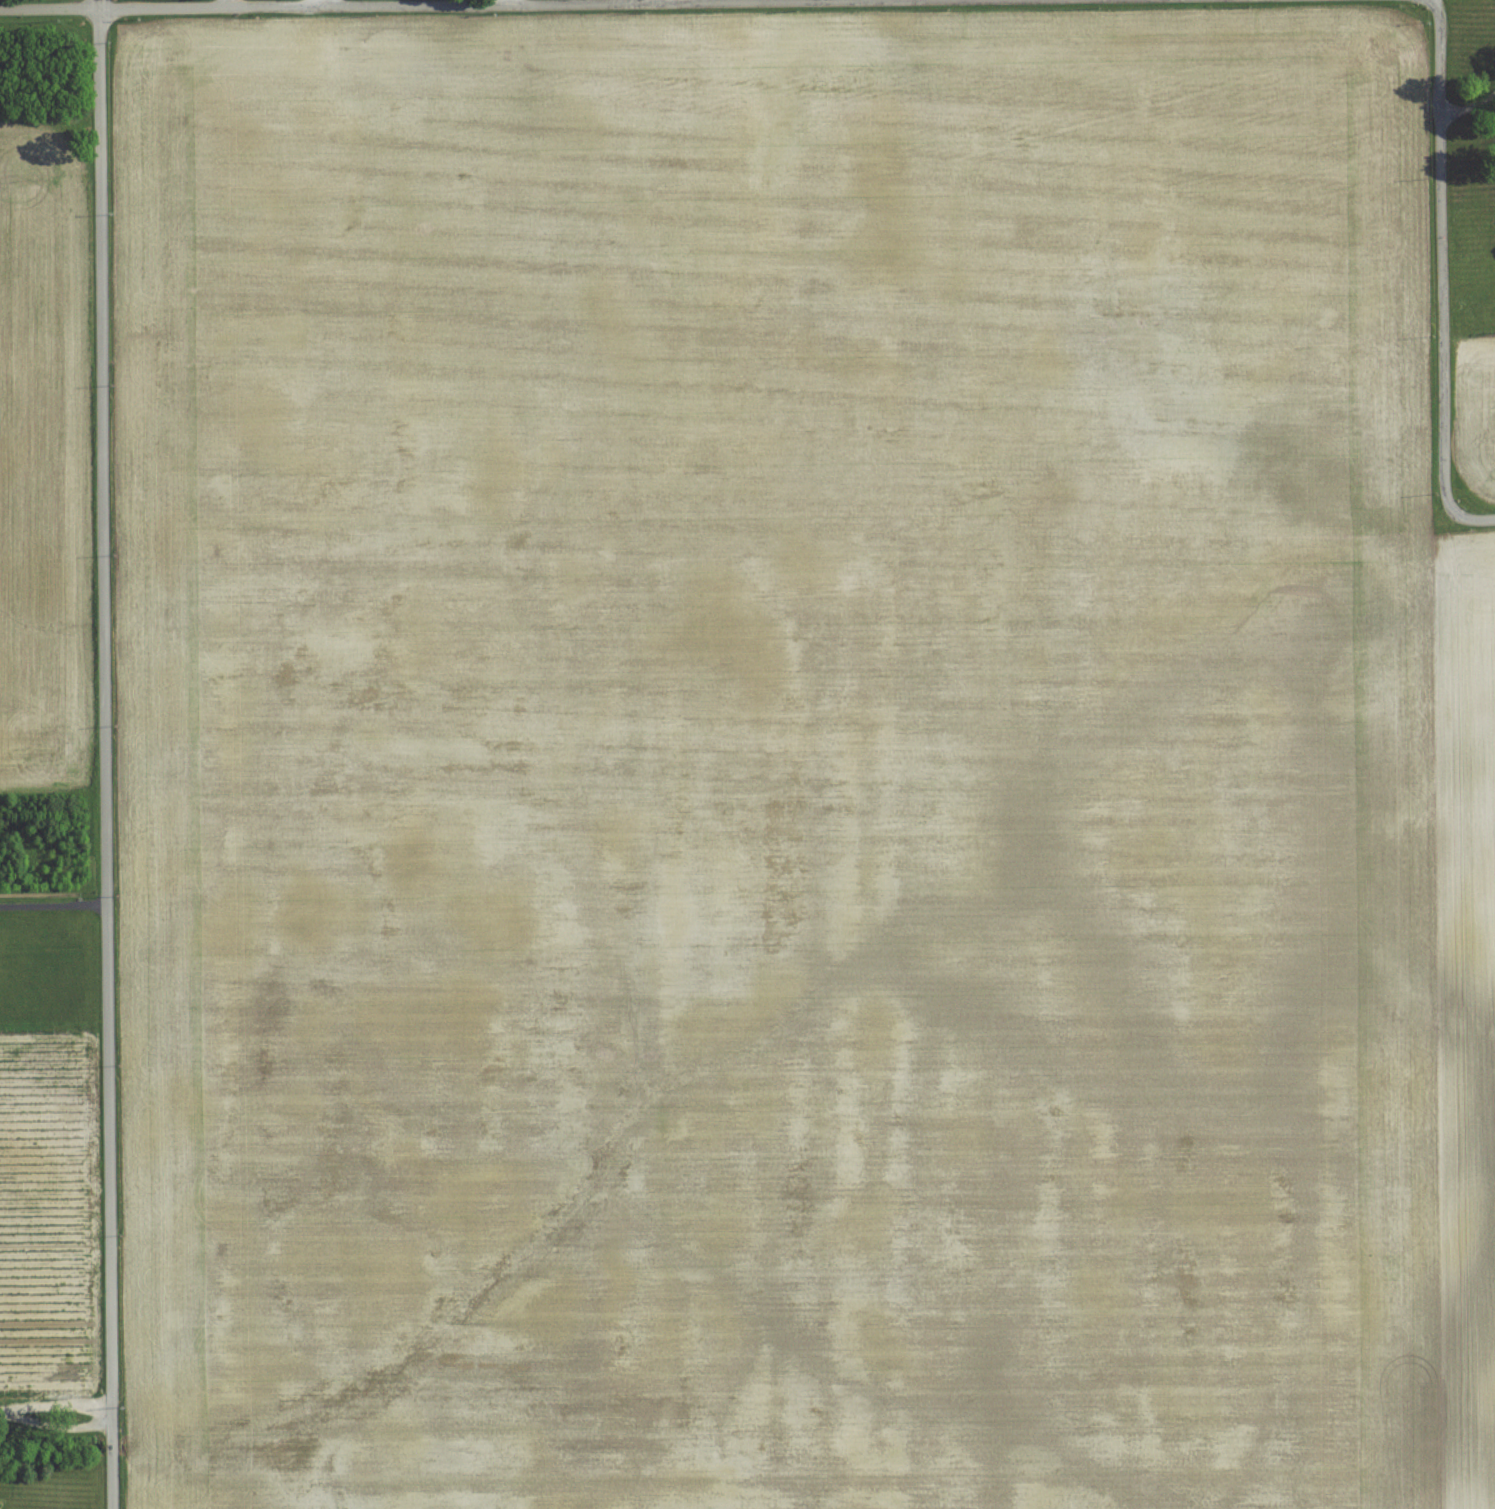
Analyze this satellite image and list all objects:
road: (504, 2)
road: (225, 3)
road: (327, 3)
road: (507, 4)
road: (1438, 10)
road: (1466, 108)
road: (1442, 277)
road: (104, 754)
road: (53, 906)
road: (55, 1426)

